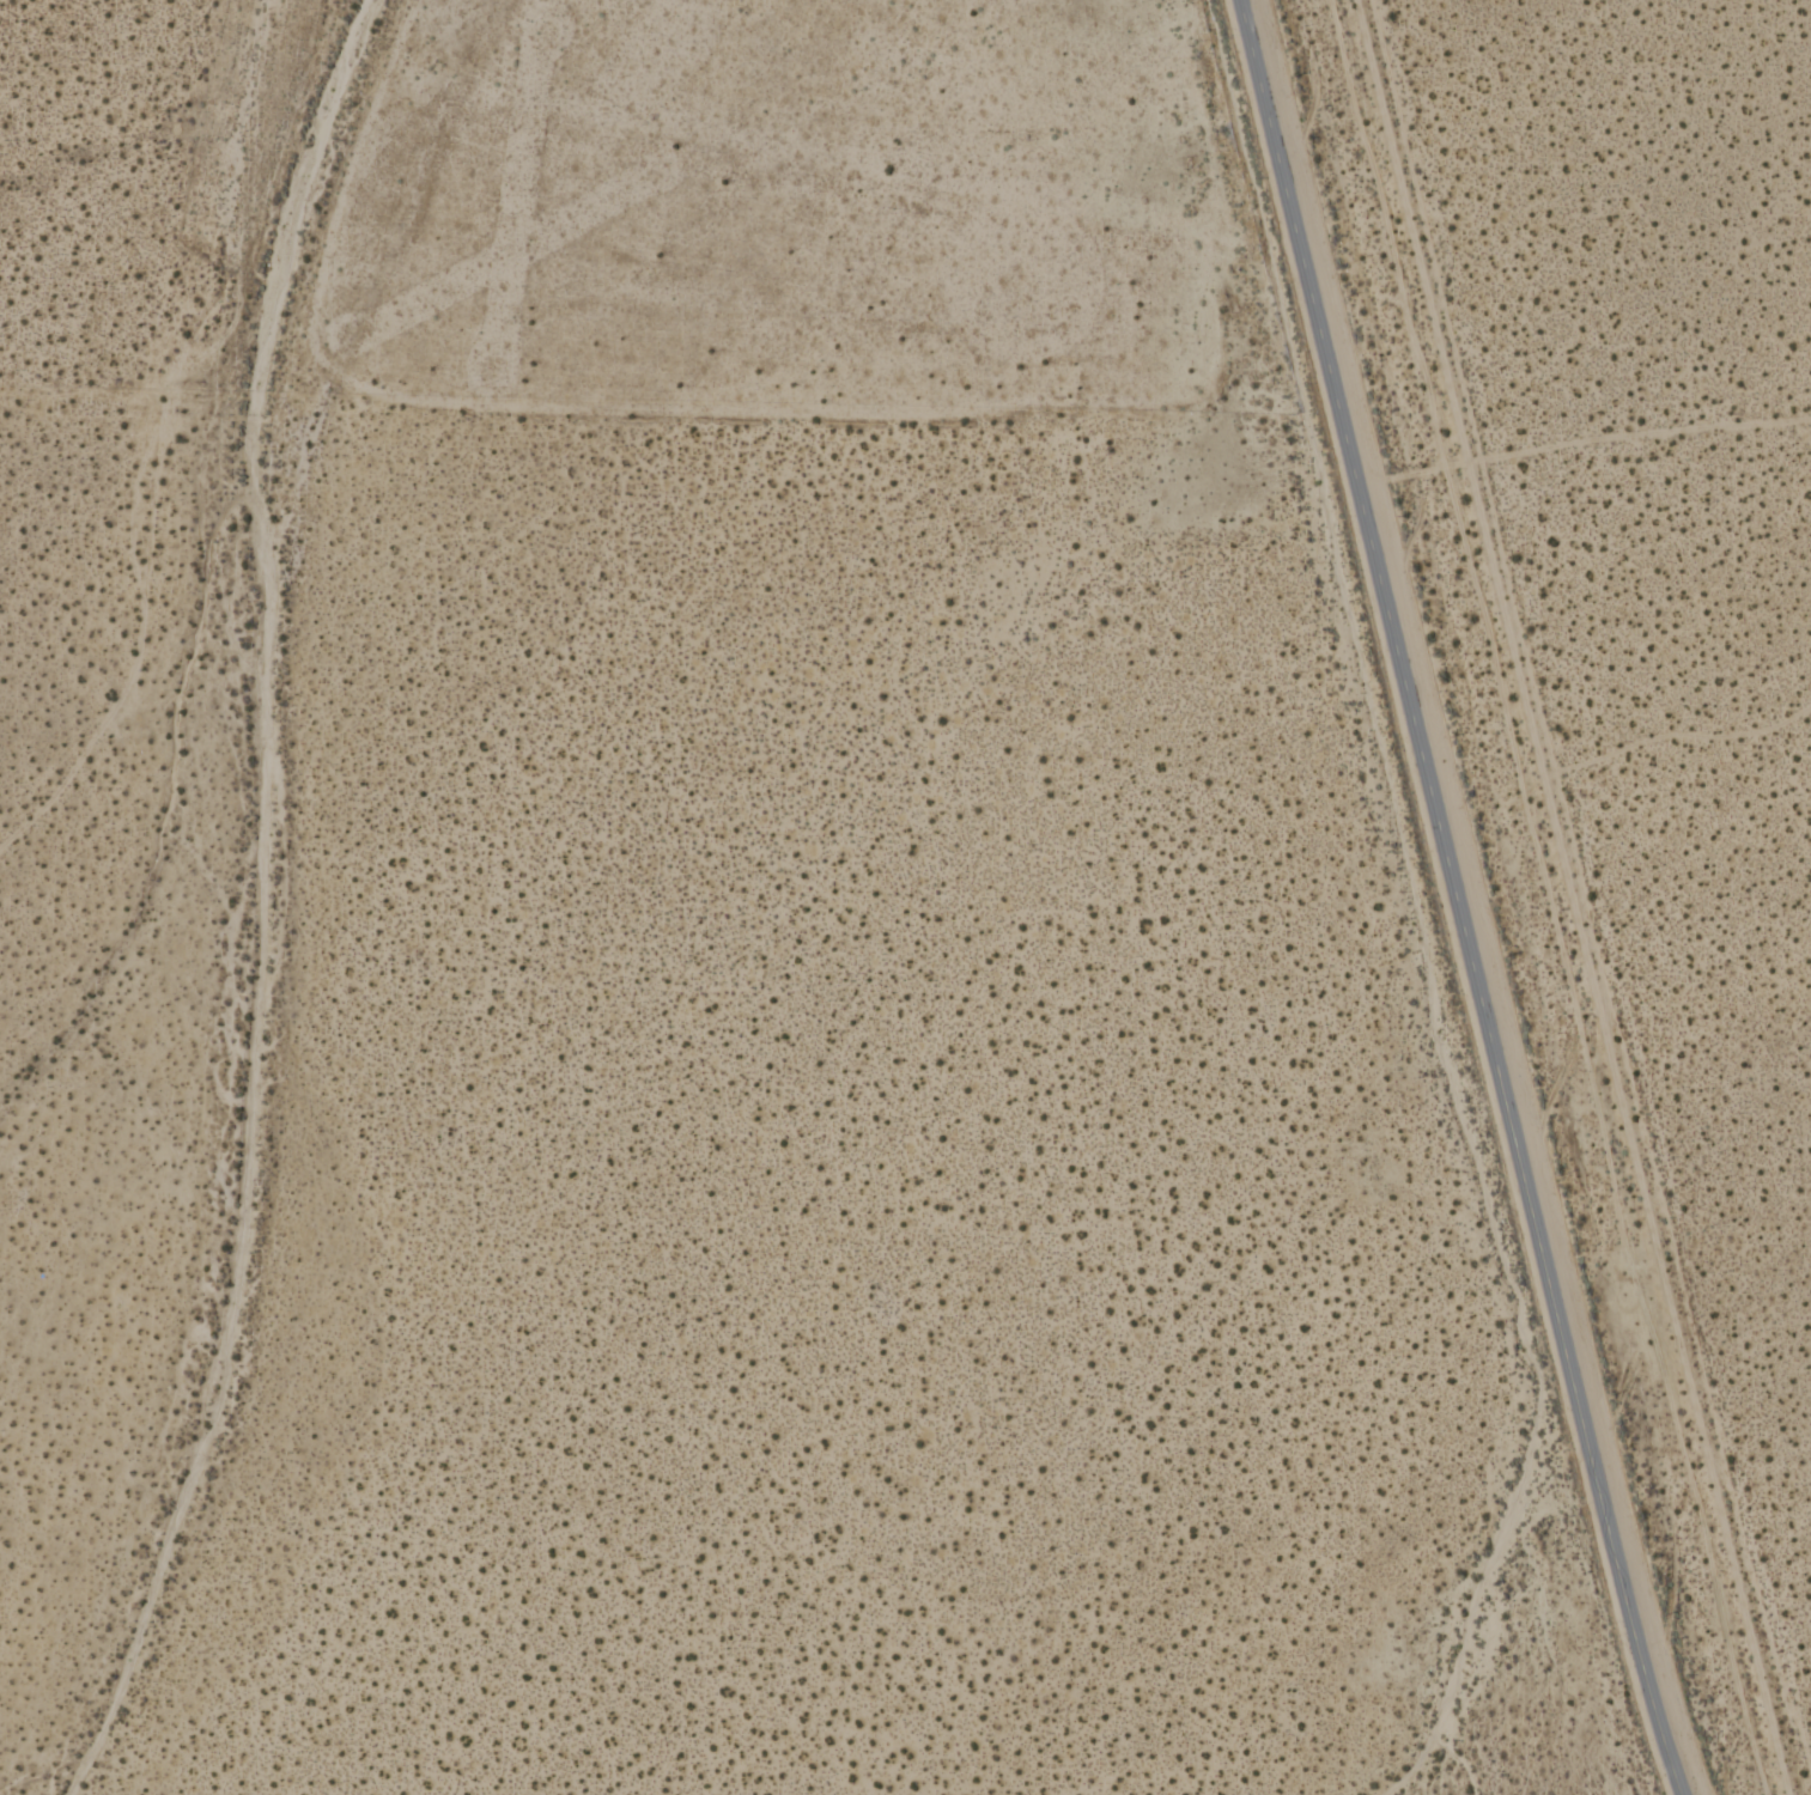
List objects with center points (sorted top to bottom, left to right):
road: (1457, 899)

